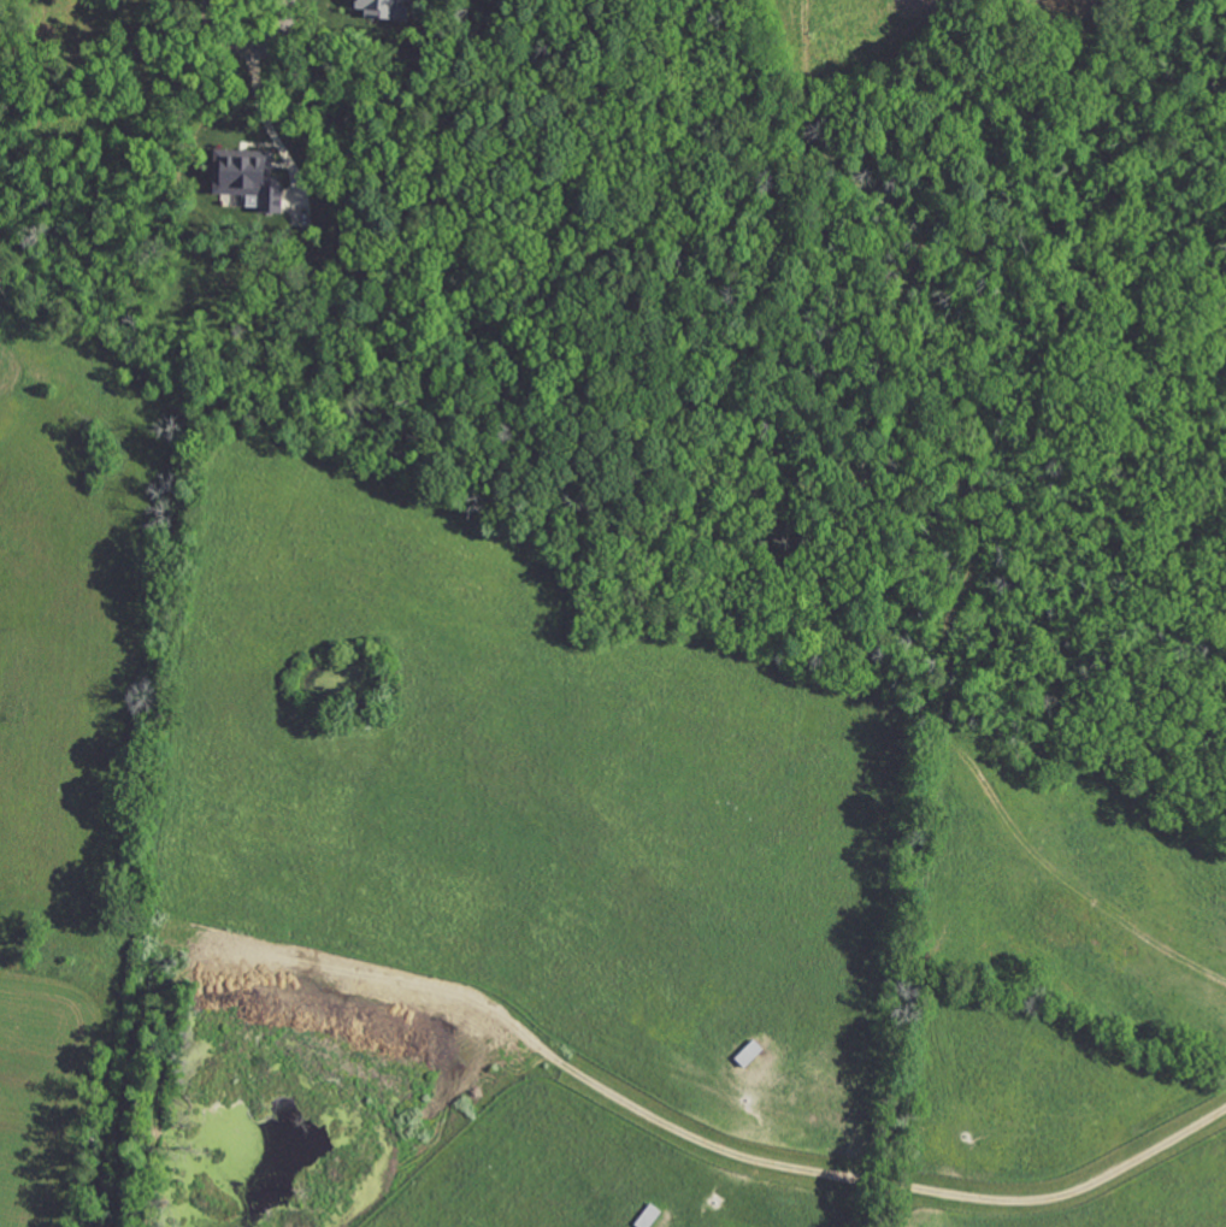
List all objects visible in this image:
road: (247, 1)
building: (387, 8)
road: (259, 102)
building: (259, 177)
road: (885, 1182)

